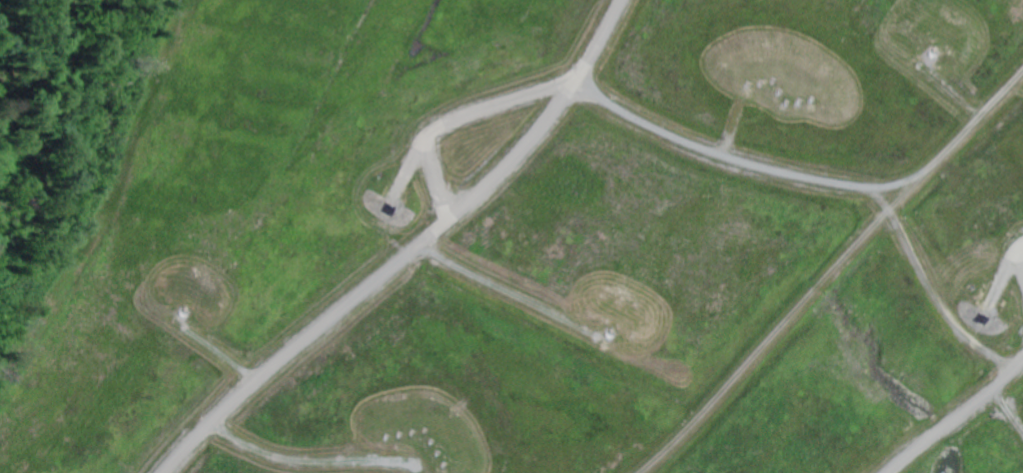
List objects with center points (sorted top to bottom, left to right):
road: (971, 127)

